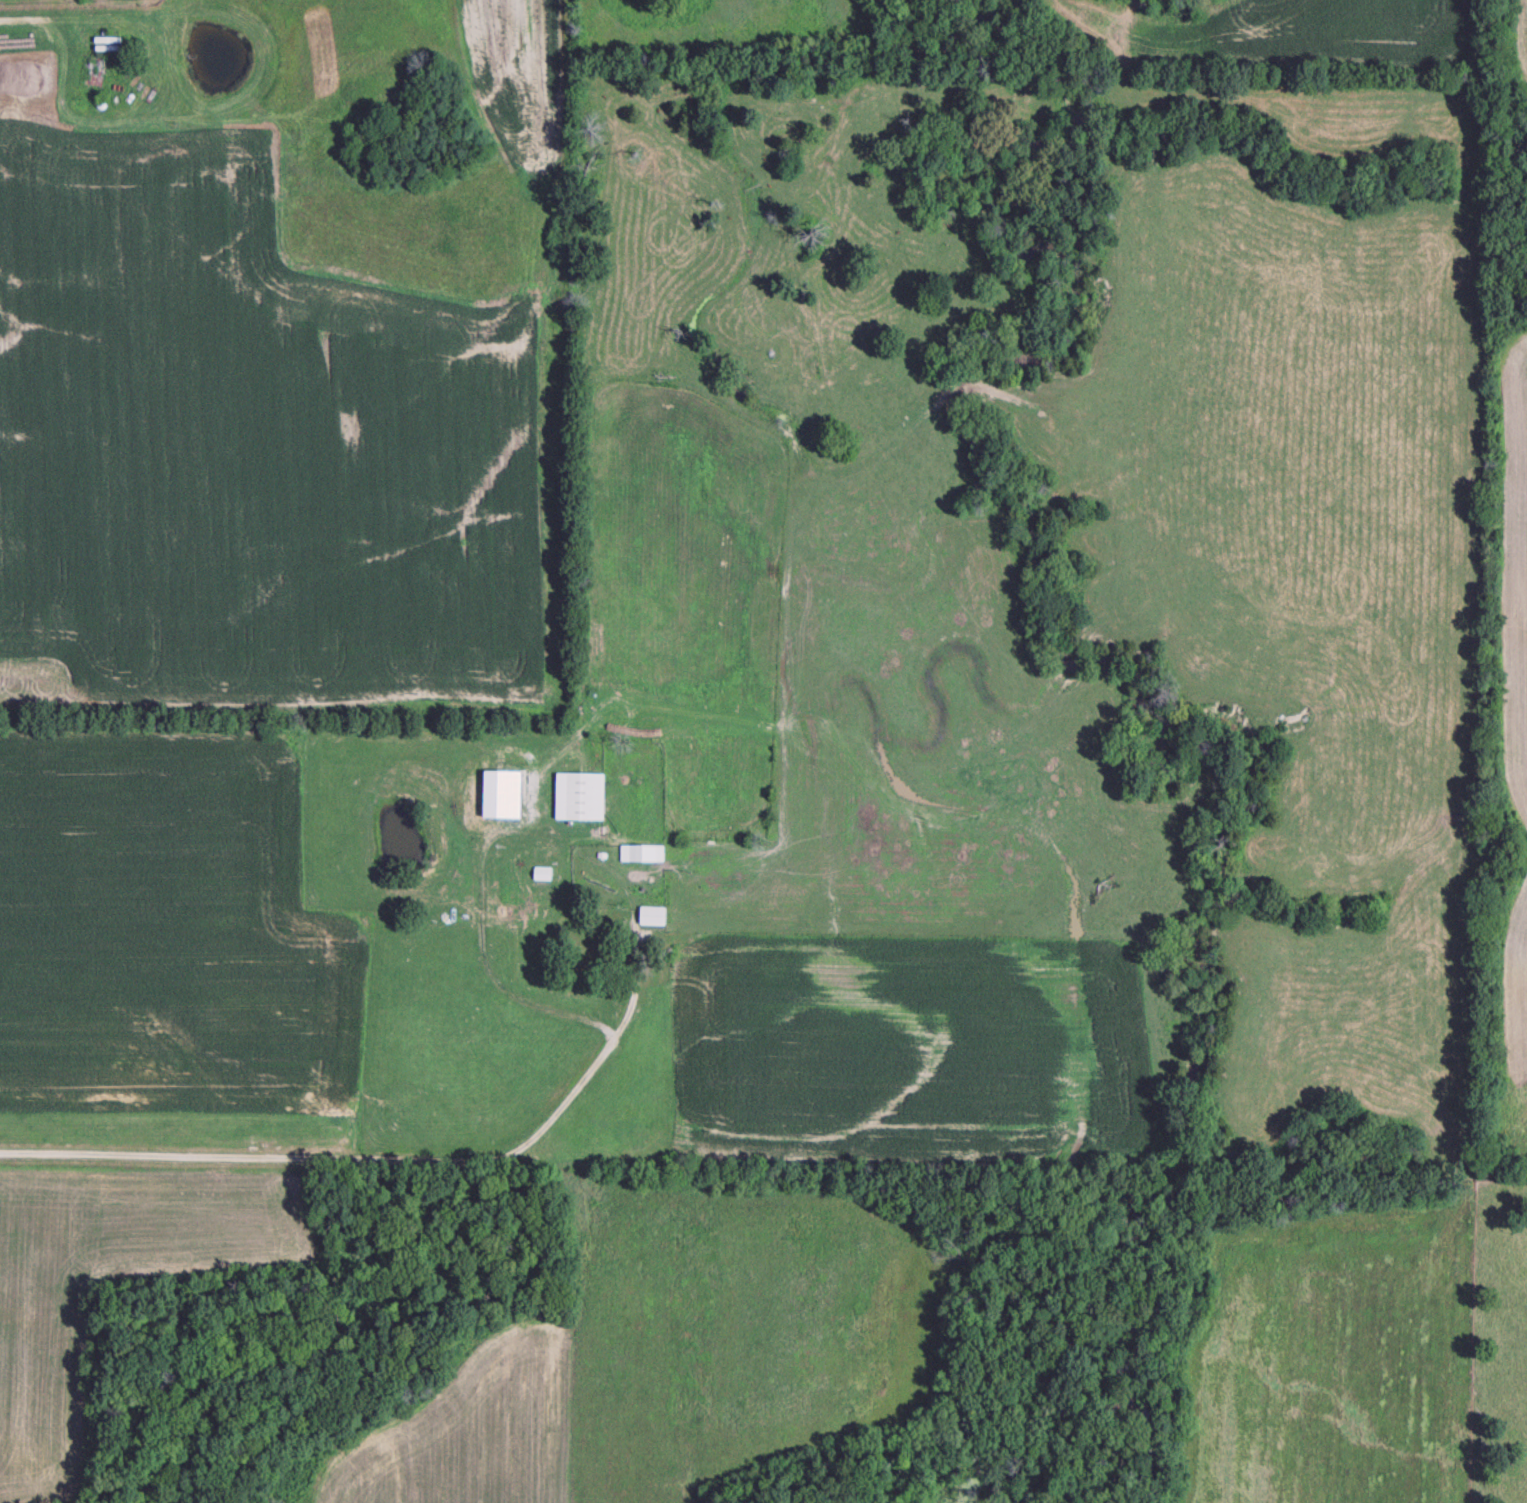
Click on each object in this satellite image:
road: (53, 23)
building: (498, 800)
building: (586, 800)
building: (643, 856)
building: (543, 877)
building: (654, 919)
building: (601, 952)
road: (476, 954)
road: (362, 1163)

